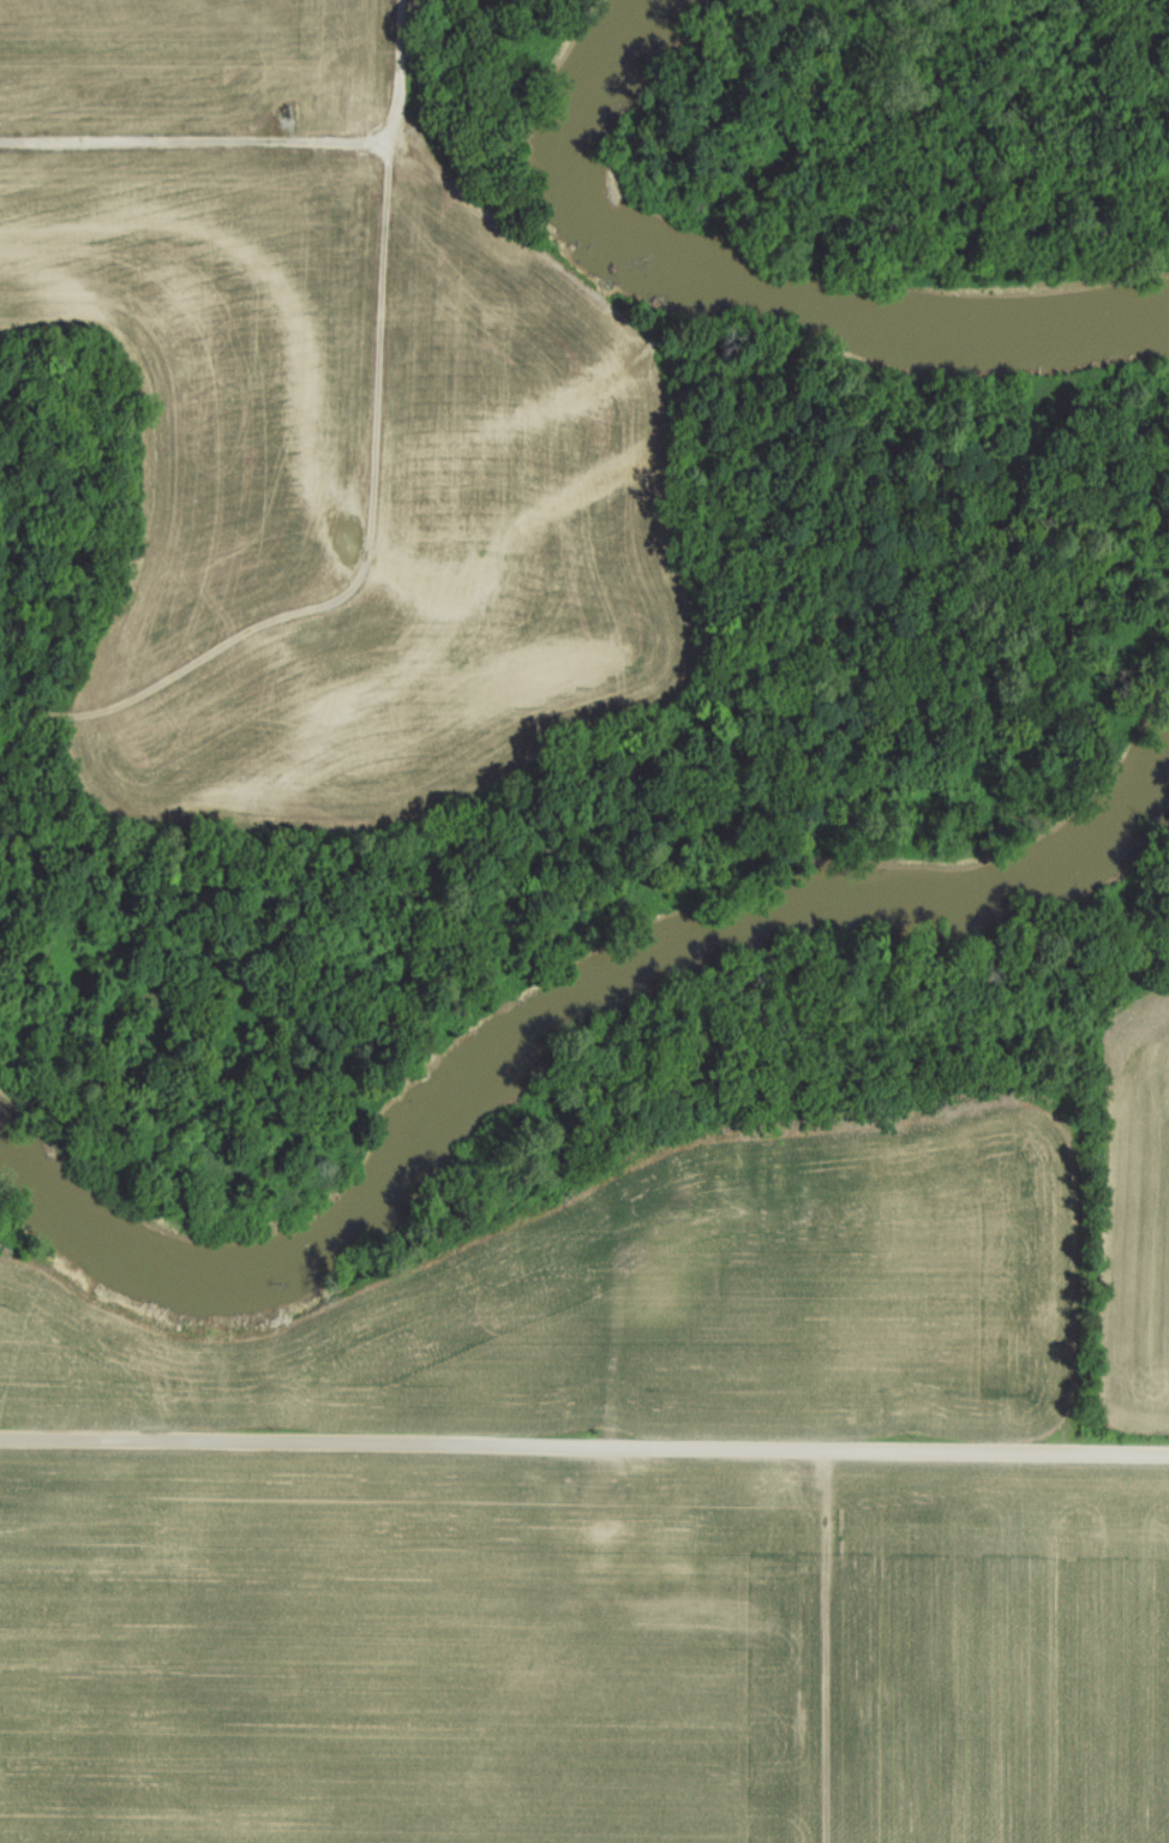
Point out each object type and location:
road: (264, 143)
river: (753, 294)
road: (368, 556)
river: (552, 1033)
road: (80, 1281)
road: (621, 1326)
road: (584, 1447)
road: (827, 1646)

